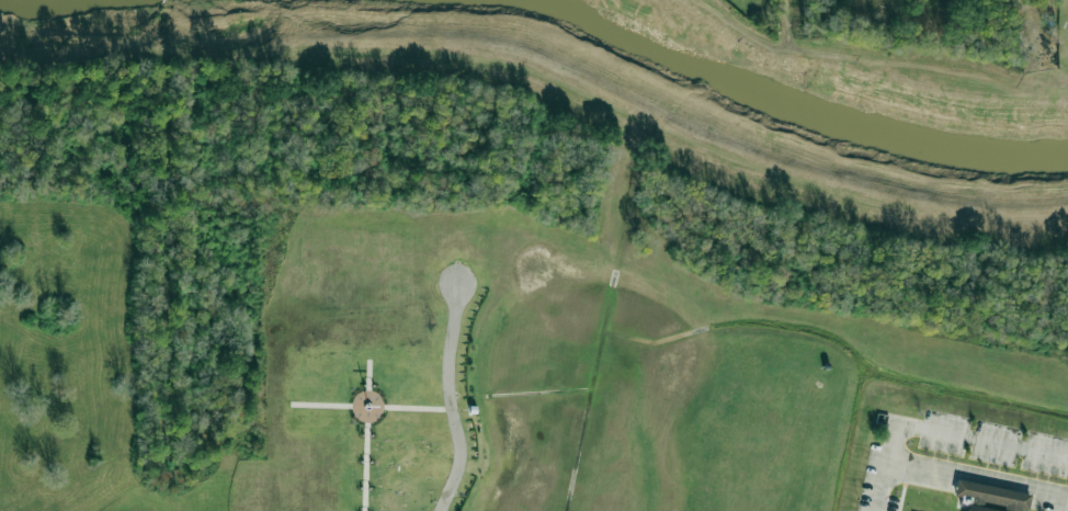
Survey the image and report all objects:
street lamp: (1056, 25)
river: (798, 110)
park: (357, 370)
road: (368, 377)
road: (450, 399)
road: (356, 404)
road: (323, 405)
road: (416, 409)
building: (471, 409)
road: (939, 430)
park: (954, 441)
parking lot: (954, 450)
road: (365, 464)
building: (359, 477)
road: (979, 479)
building: (990, 498)

